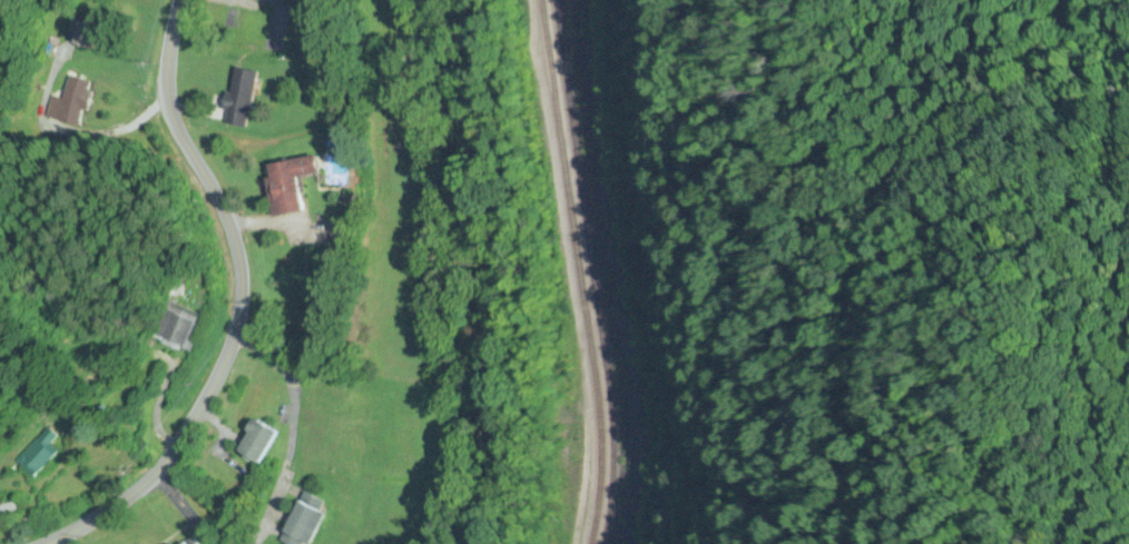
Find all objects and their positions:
building: (86, 34)
building: (239, 98)
building: (70, 105)
building: (288, 185)
railway: (578, 273)
road: (238, 303)
building: (180, 327)
road: (292, 429)
building: (257, 443)
building: (41, 455)
road: (183, 508)
building: (307, 522)
building: (185, 543)

